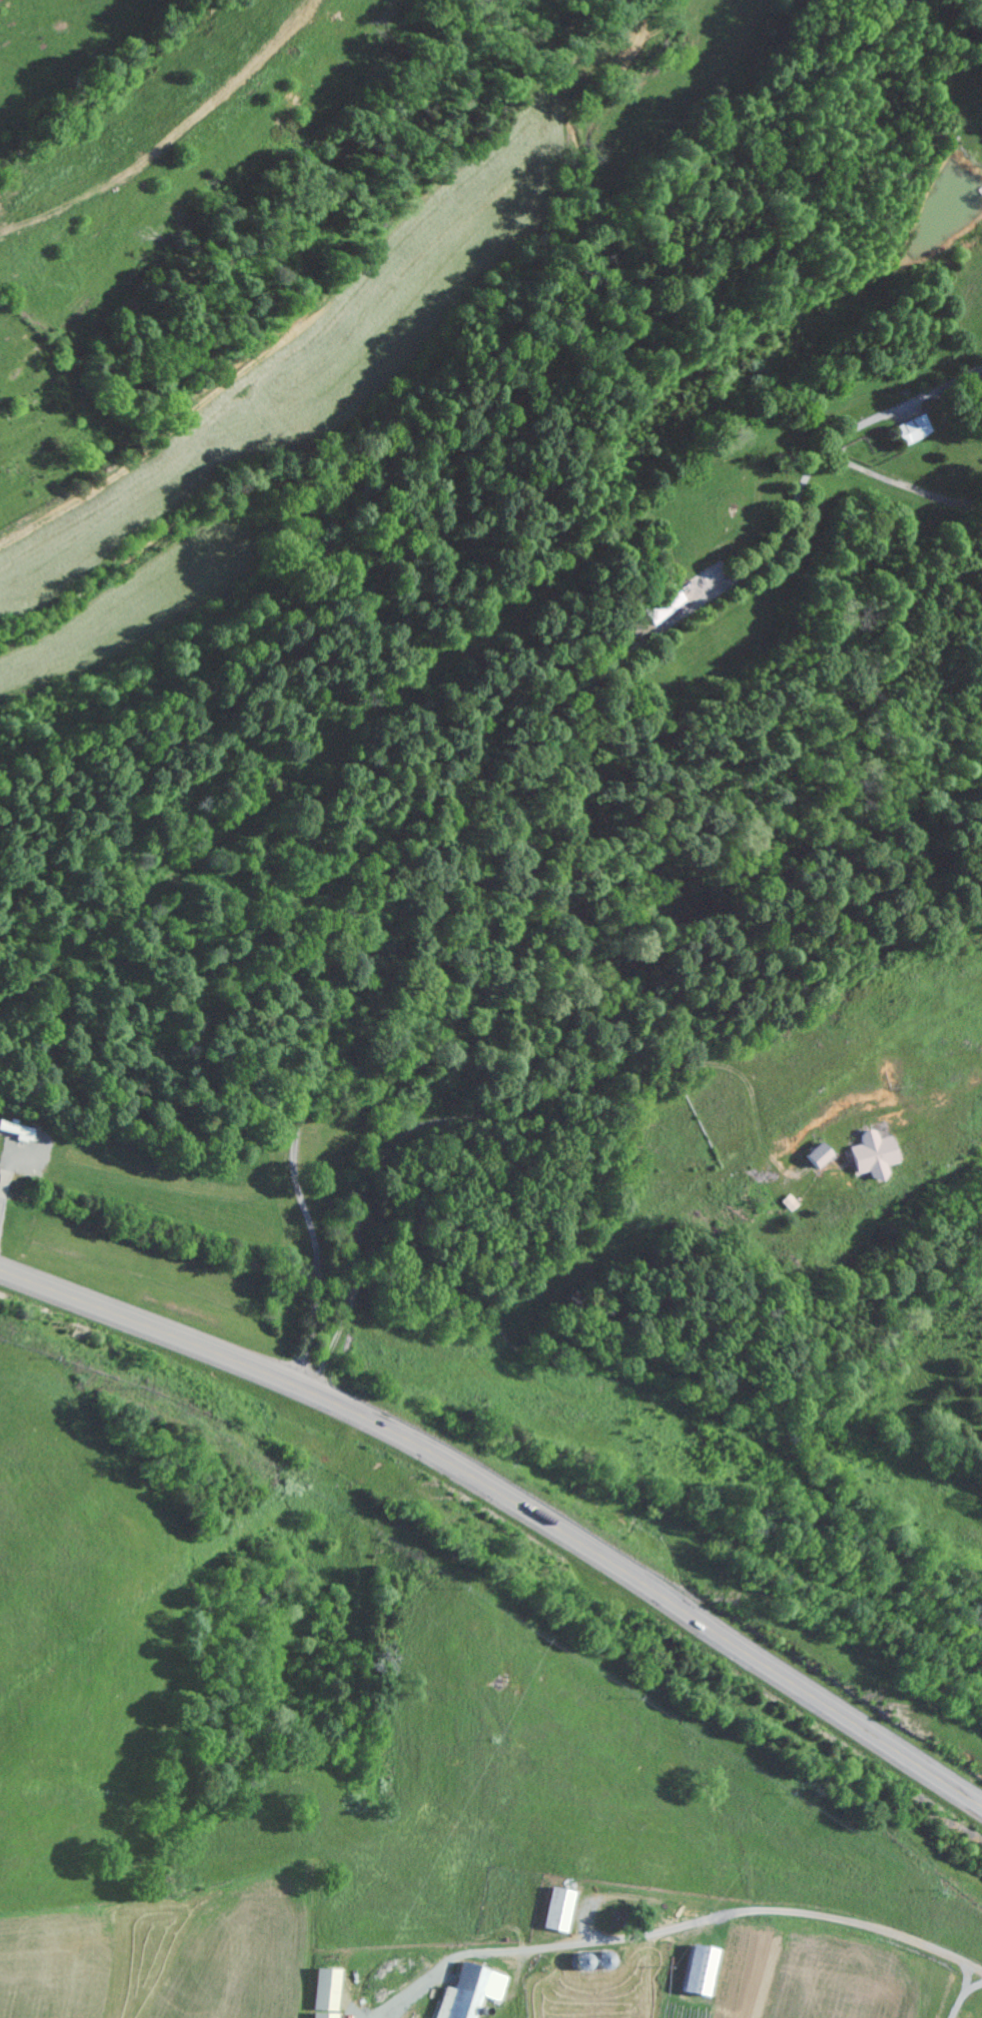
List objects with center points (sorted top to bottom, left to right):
building: (919, 428)
building: (669, 604)
building: (829, 1152)
building: (882, 1153)
building: (796, 1202)
road: (510, 1499)
building: (564, 1909)
building: (706, 1969)
building: (475, 1991)
building: (331, 1993)

